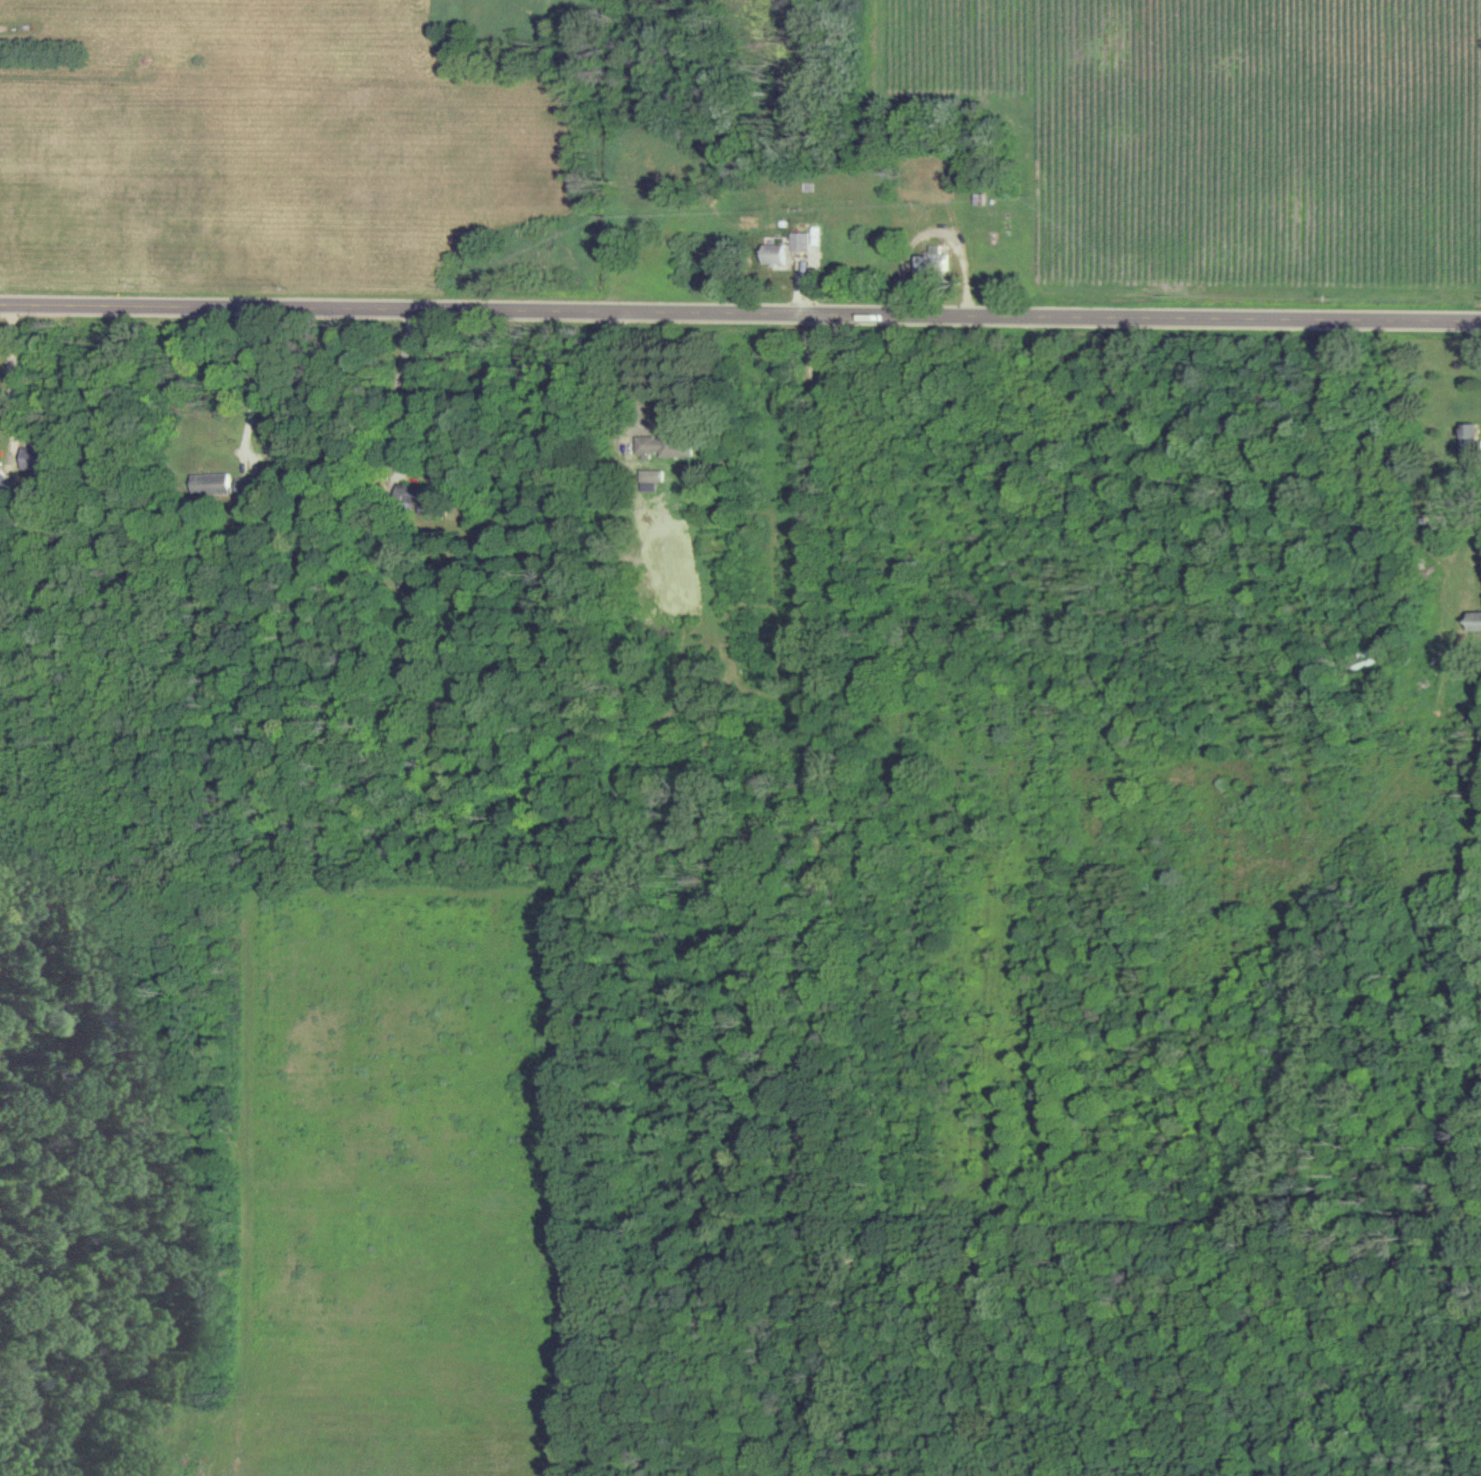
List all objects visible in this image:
road: (937, 231)
building: (803, 242)
building: (777, 253)
building: (935, 262)
road: (740, 314)
road: (263, 376)
road: (14, 377)
road: (617, 379)
road: (413, 395)
building: (667, 447)
building: (1467, 447)
building: (4, 484)
building: (211, 484)
building: (245, 487)
building: (1476, 623)

